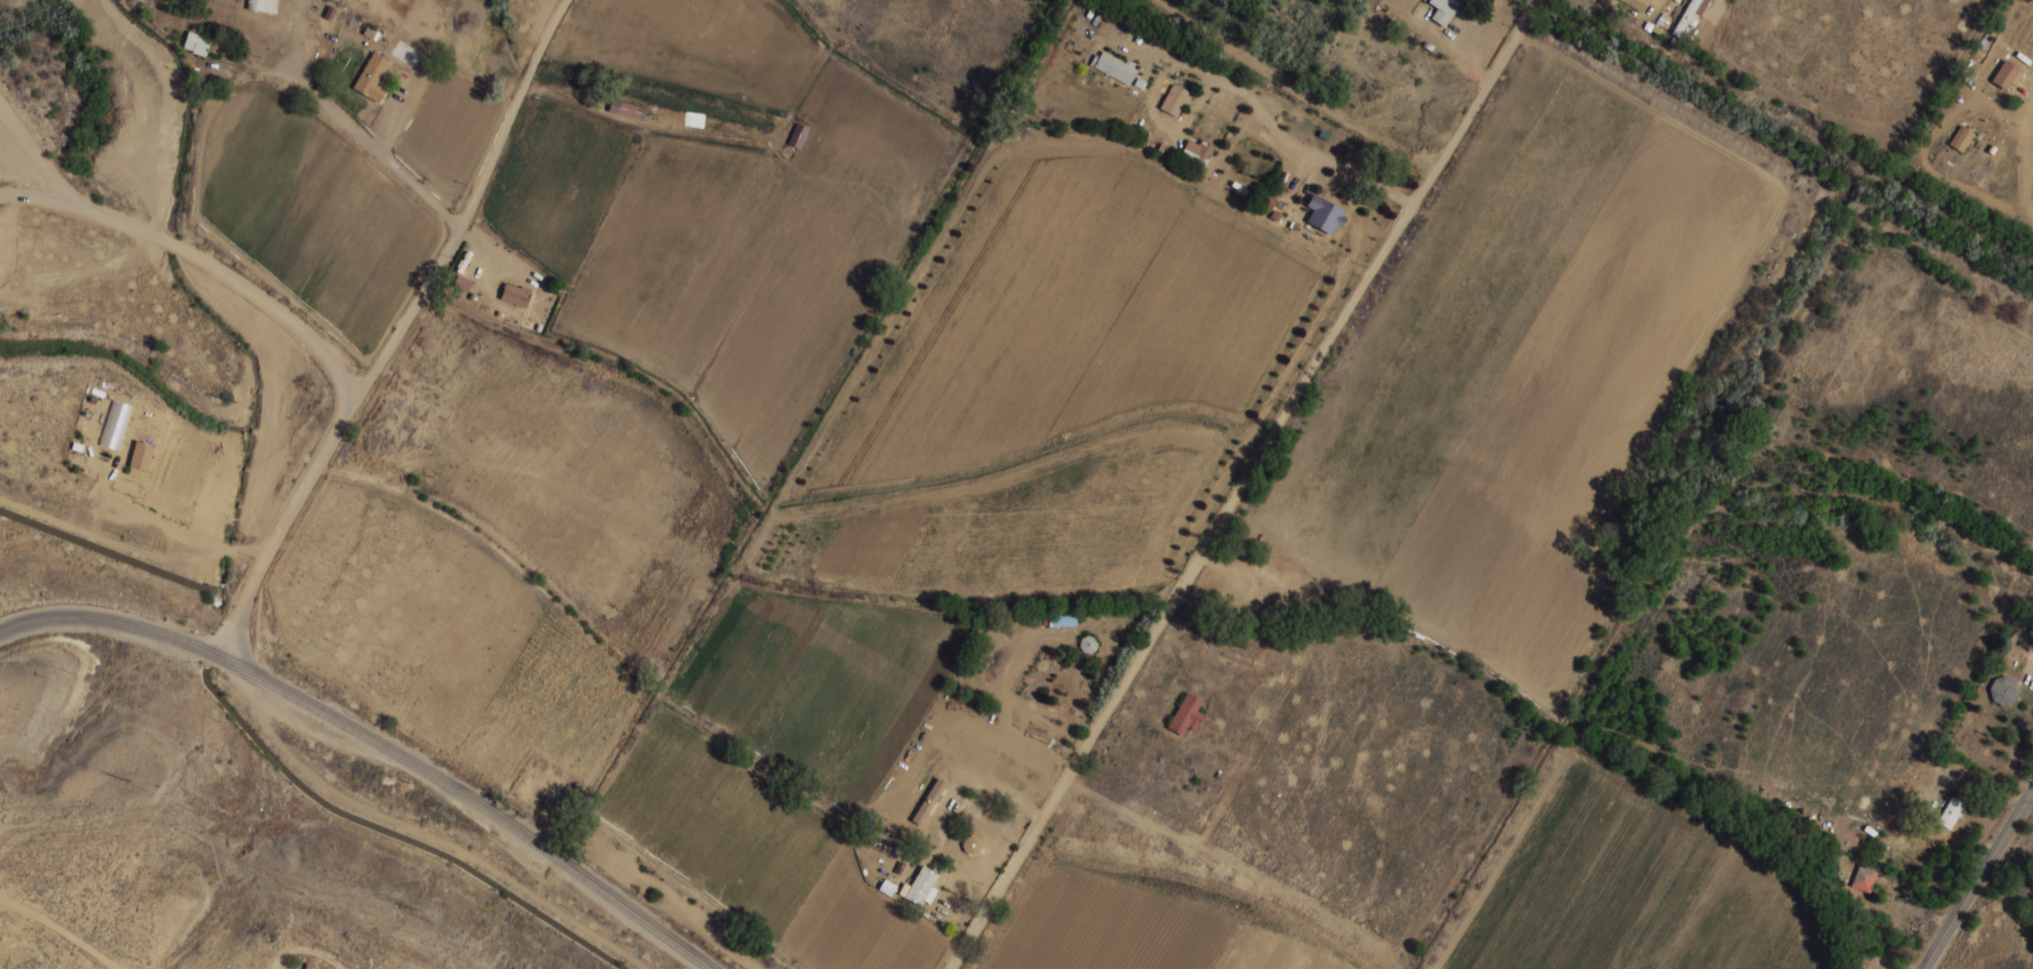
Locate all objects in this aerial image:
building: (1637, 4)
building: (263, 6)
building: (1445, 10)
building: (196, 44)
building: (1114, 67)
building: (2007, 76)
building: (370, 83)
building: (1175, 101)
building: (627, 109)
building: (797, 136)
building: (1962, 139)
road: (36, 154)
building: (1194, 157)
road: (36, 198)
building: (1326, 216)
road: (460, 221)
road: (241, 286)
building: (516, 294)
building: (141, 455)
road: (1236, 484)
road: (162, 519)
road: (272, 542)
building: (1277, 593)
building: (1062, 620)
building: (1088, 644)
building: (1039, 674)
building: (2003, 690)
building: (1186, 714)
road: (378, 745)
building: (1949, 812)
building: (967, 845)
building: (1864, 879)
road: (1978, 882)
building: (922, 886)
road: (60, 929)
building: (311, 966)

